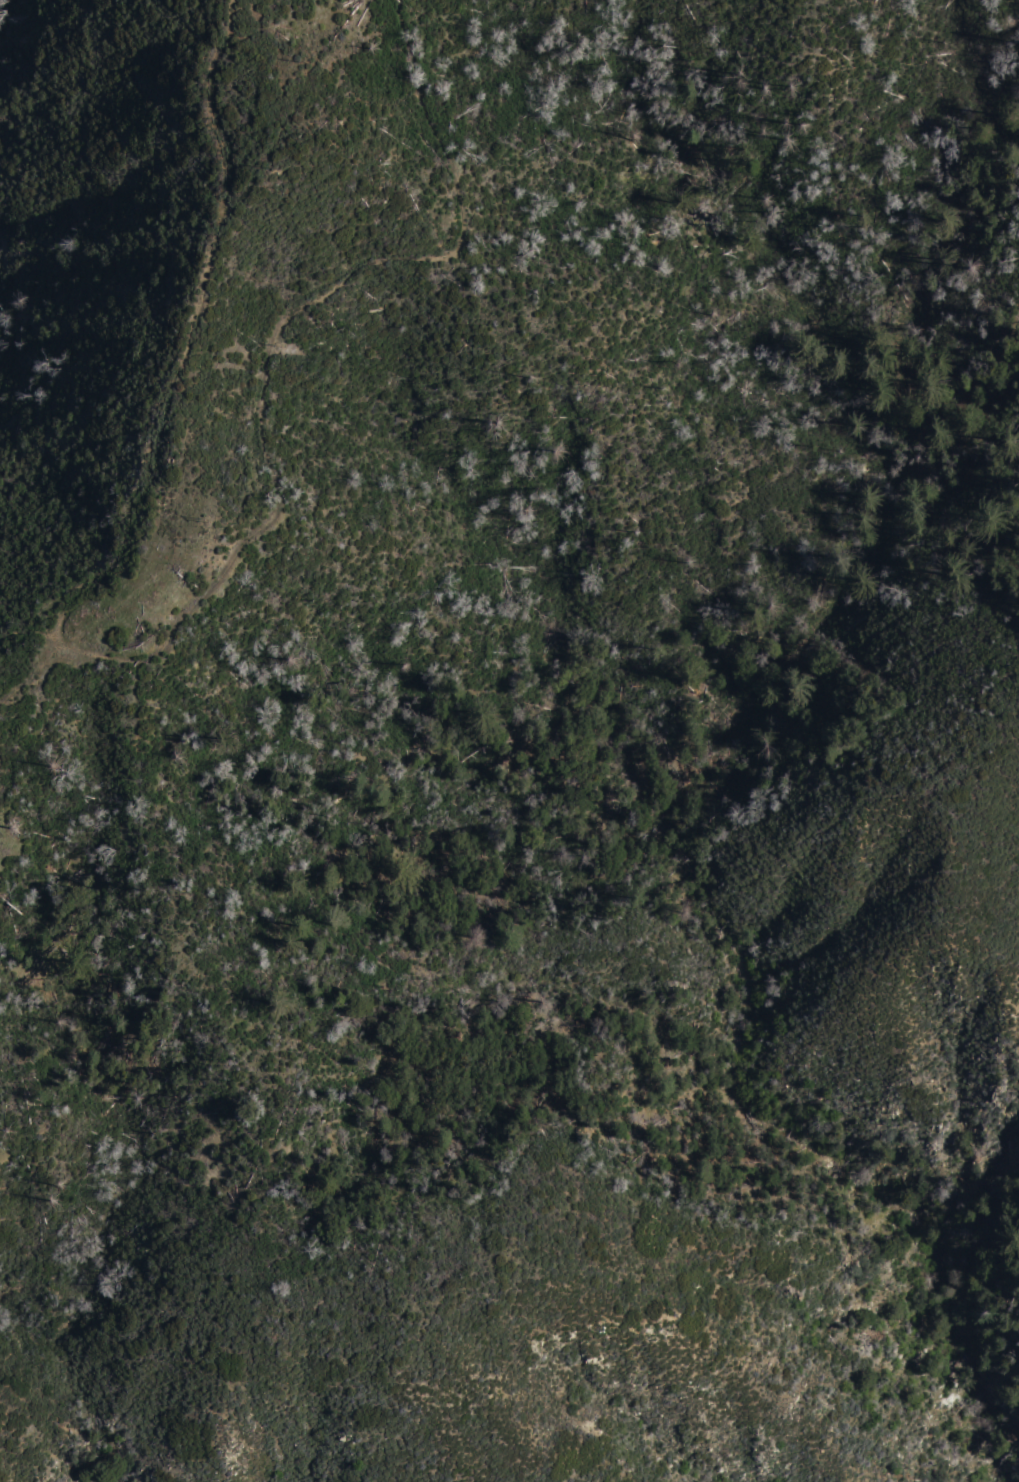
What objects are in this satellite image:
road: (272, 331)
road: (23, 665)

